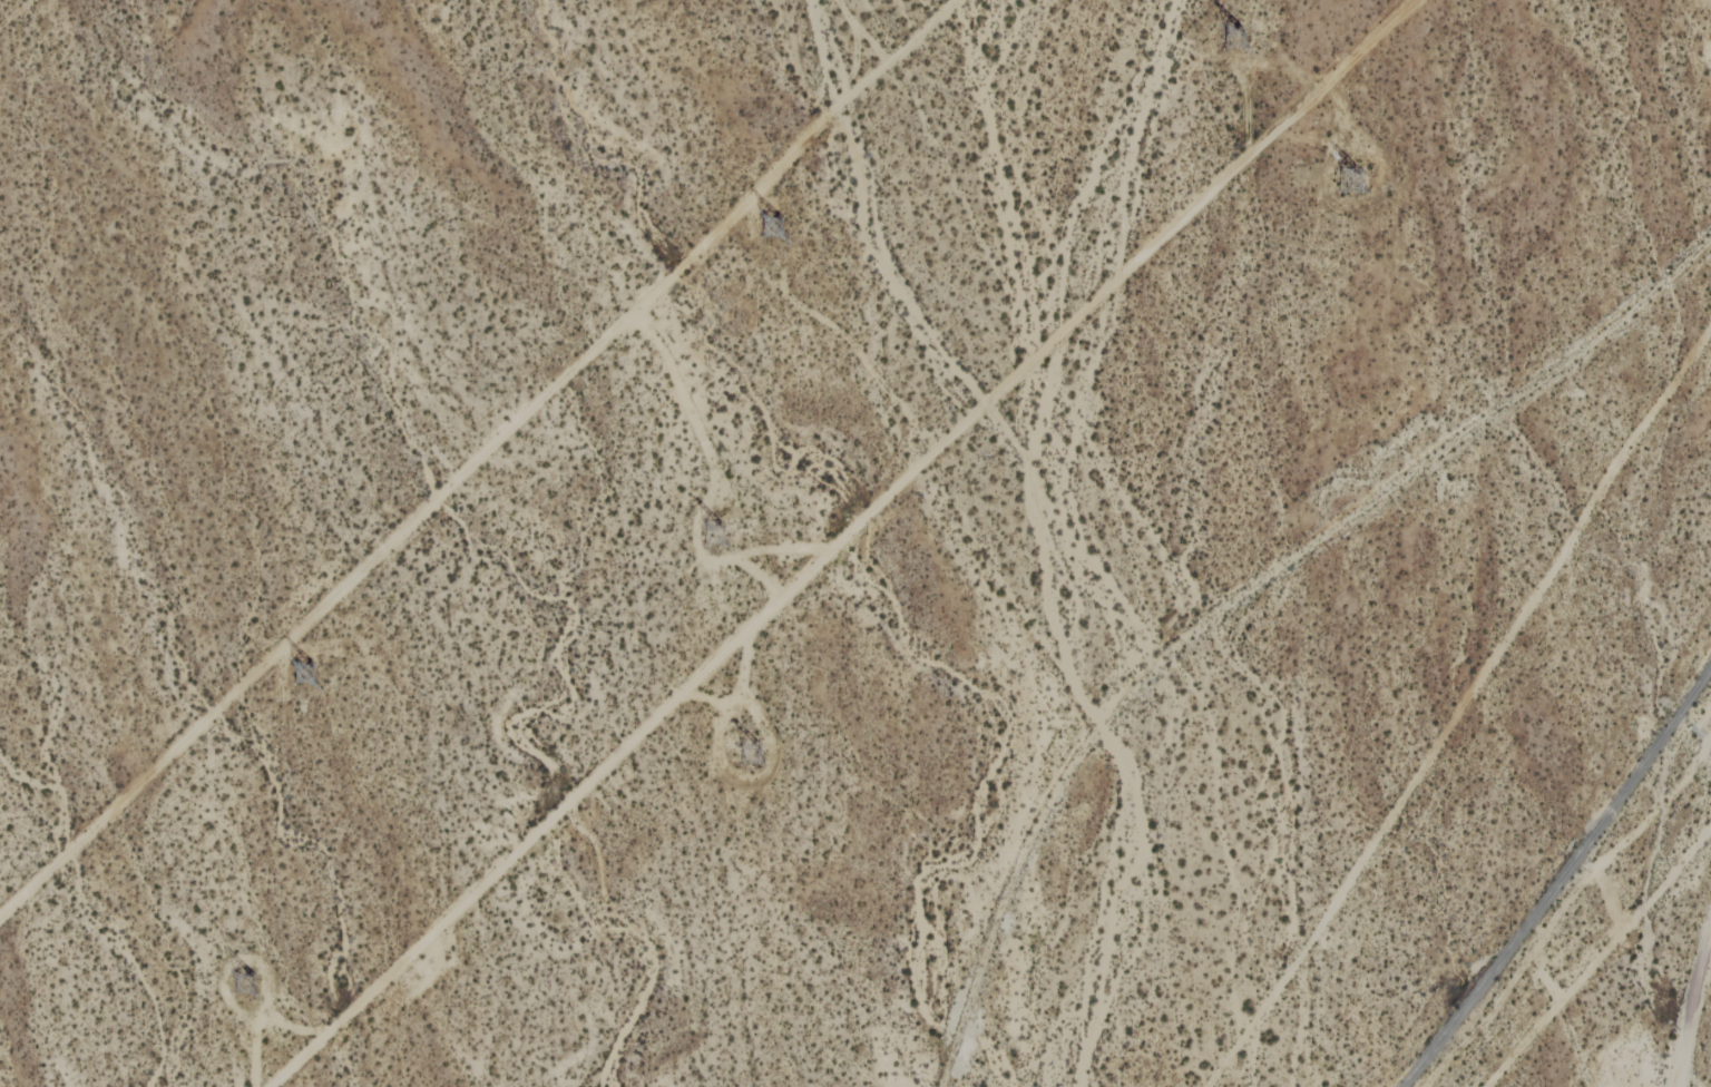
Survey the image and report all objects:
power tower: (1231, 33)
power tower: (1353, 178)
power tower: (772, 222)
power tower: (705, 533)
road: (831, 541)
power tower: (304, 668)
road: (1460, 705)
power tower: (744, 748)
railway: (1558, 878)
power tower: (248, 981)
road: (1689, 1003)

